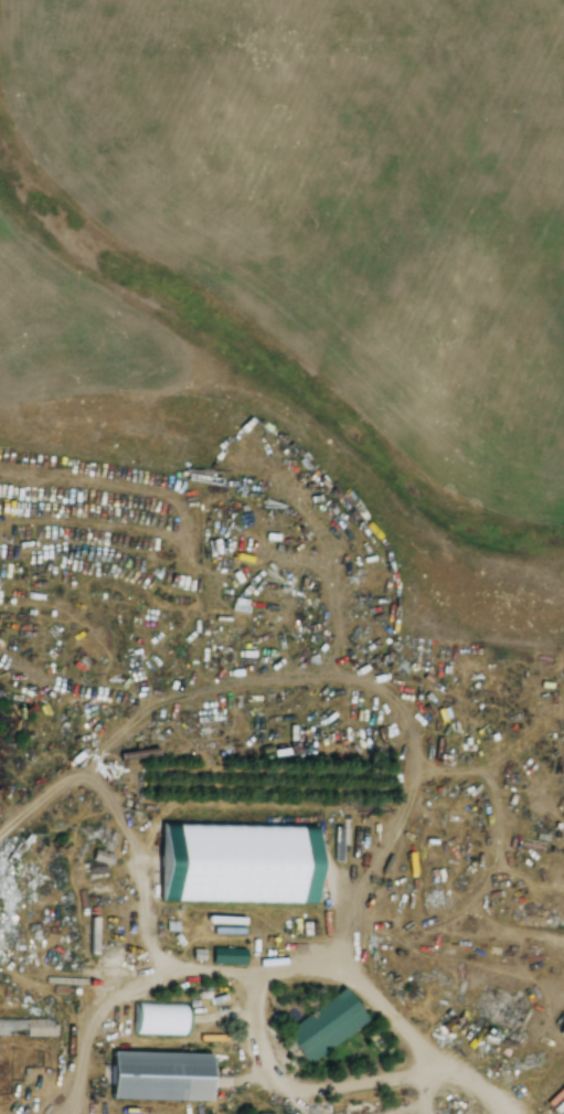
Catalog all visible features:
building: (241, 860)
building: (160, 1016)
building: (326, 1022)
building: (28, 1026)
road: (428, 1046)
building: (163, 1073)

